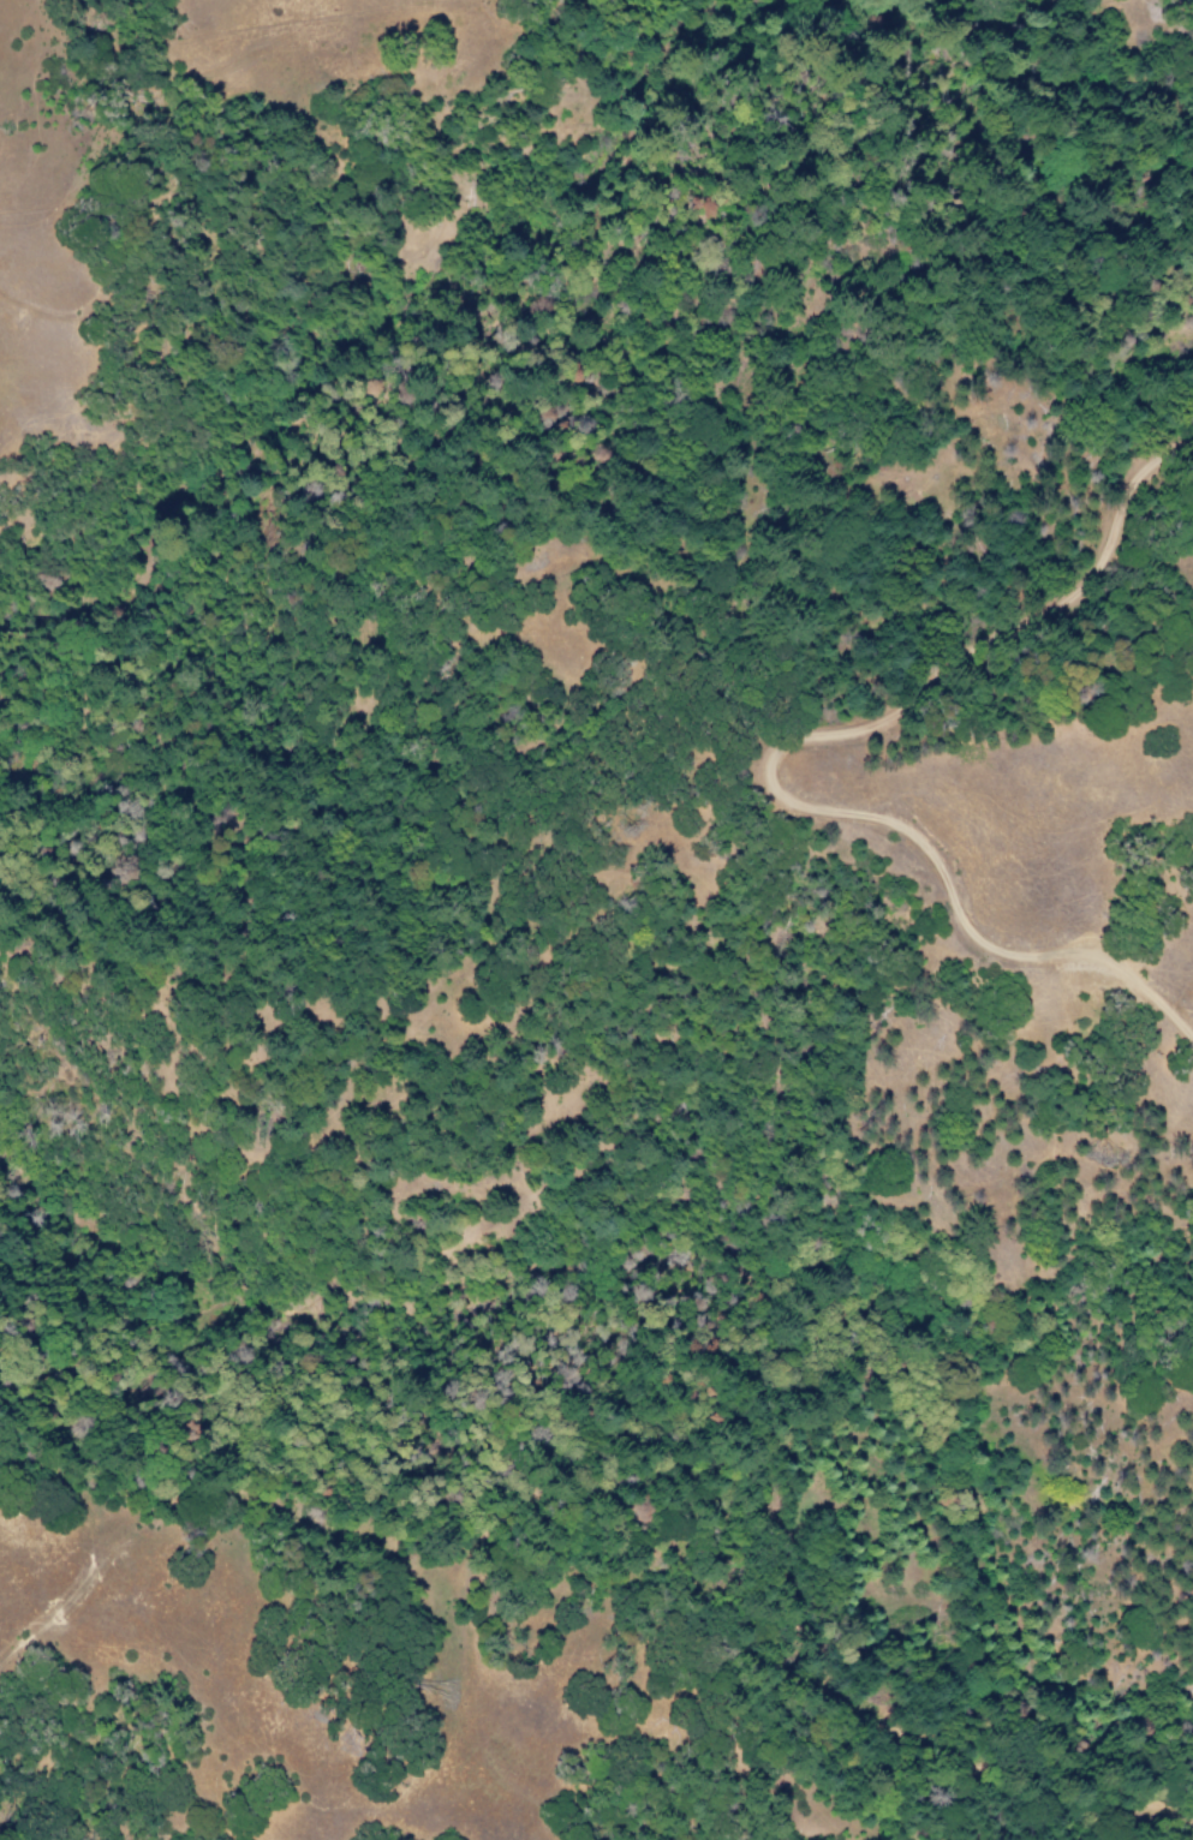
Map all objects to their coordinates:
road: (774, 763)
road: (179, 1505)

